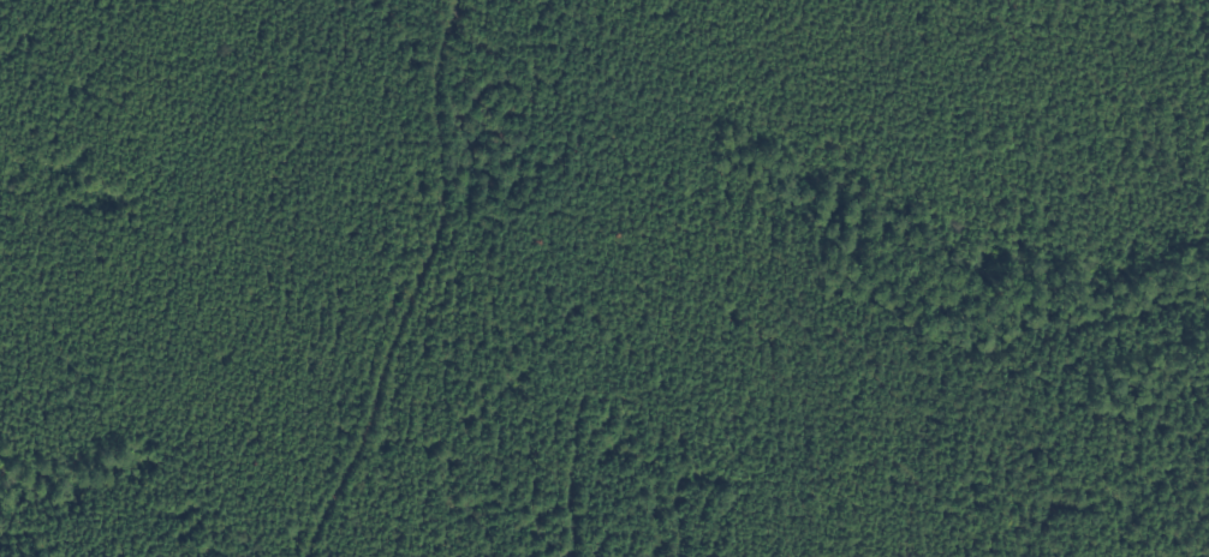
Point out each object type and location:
road: (364, 274)
road: (1130, 495)

